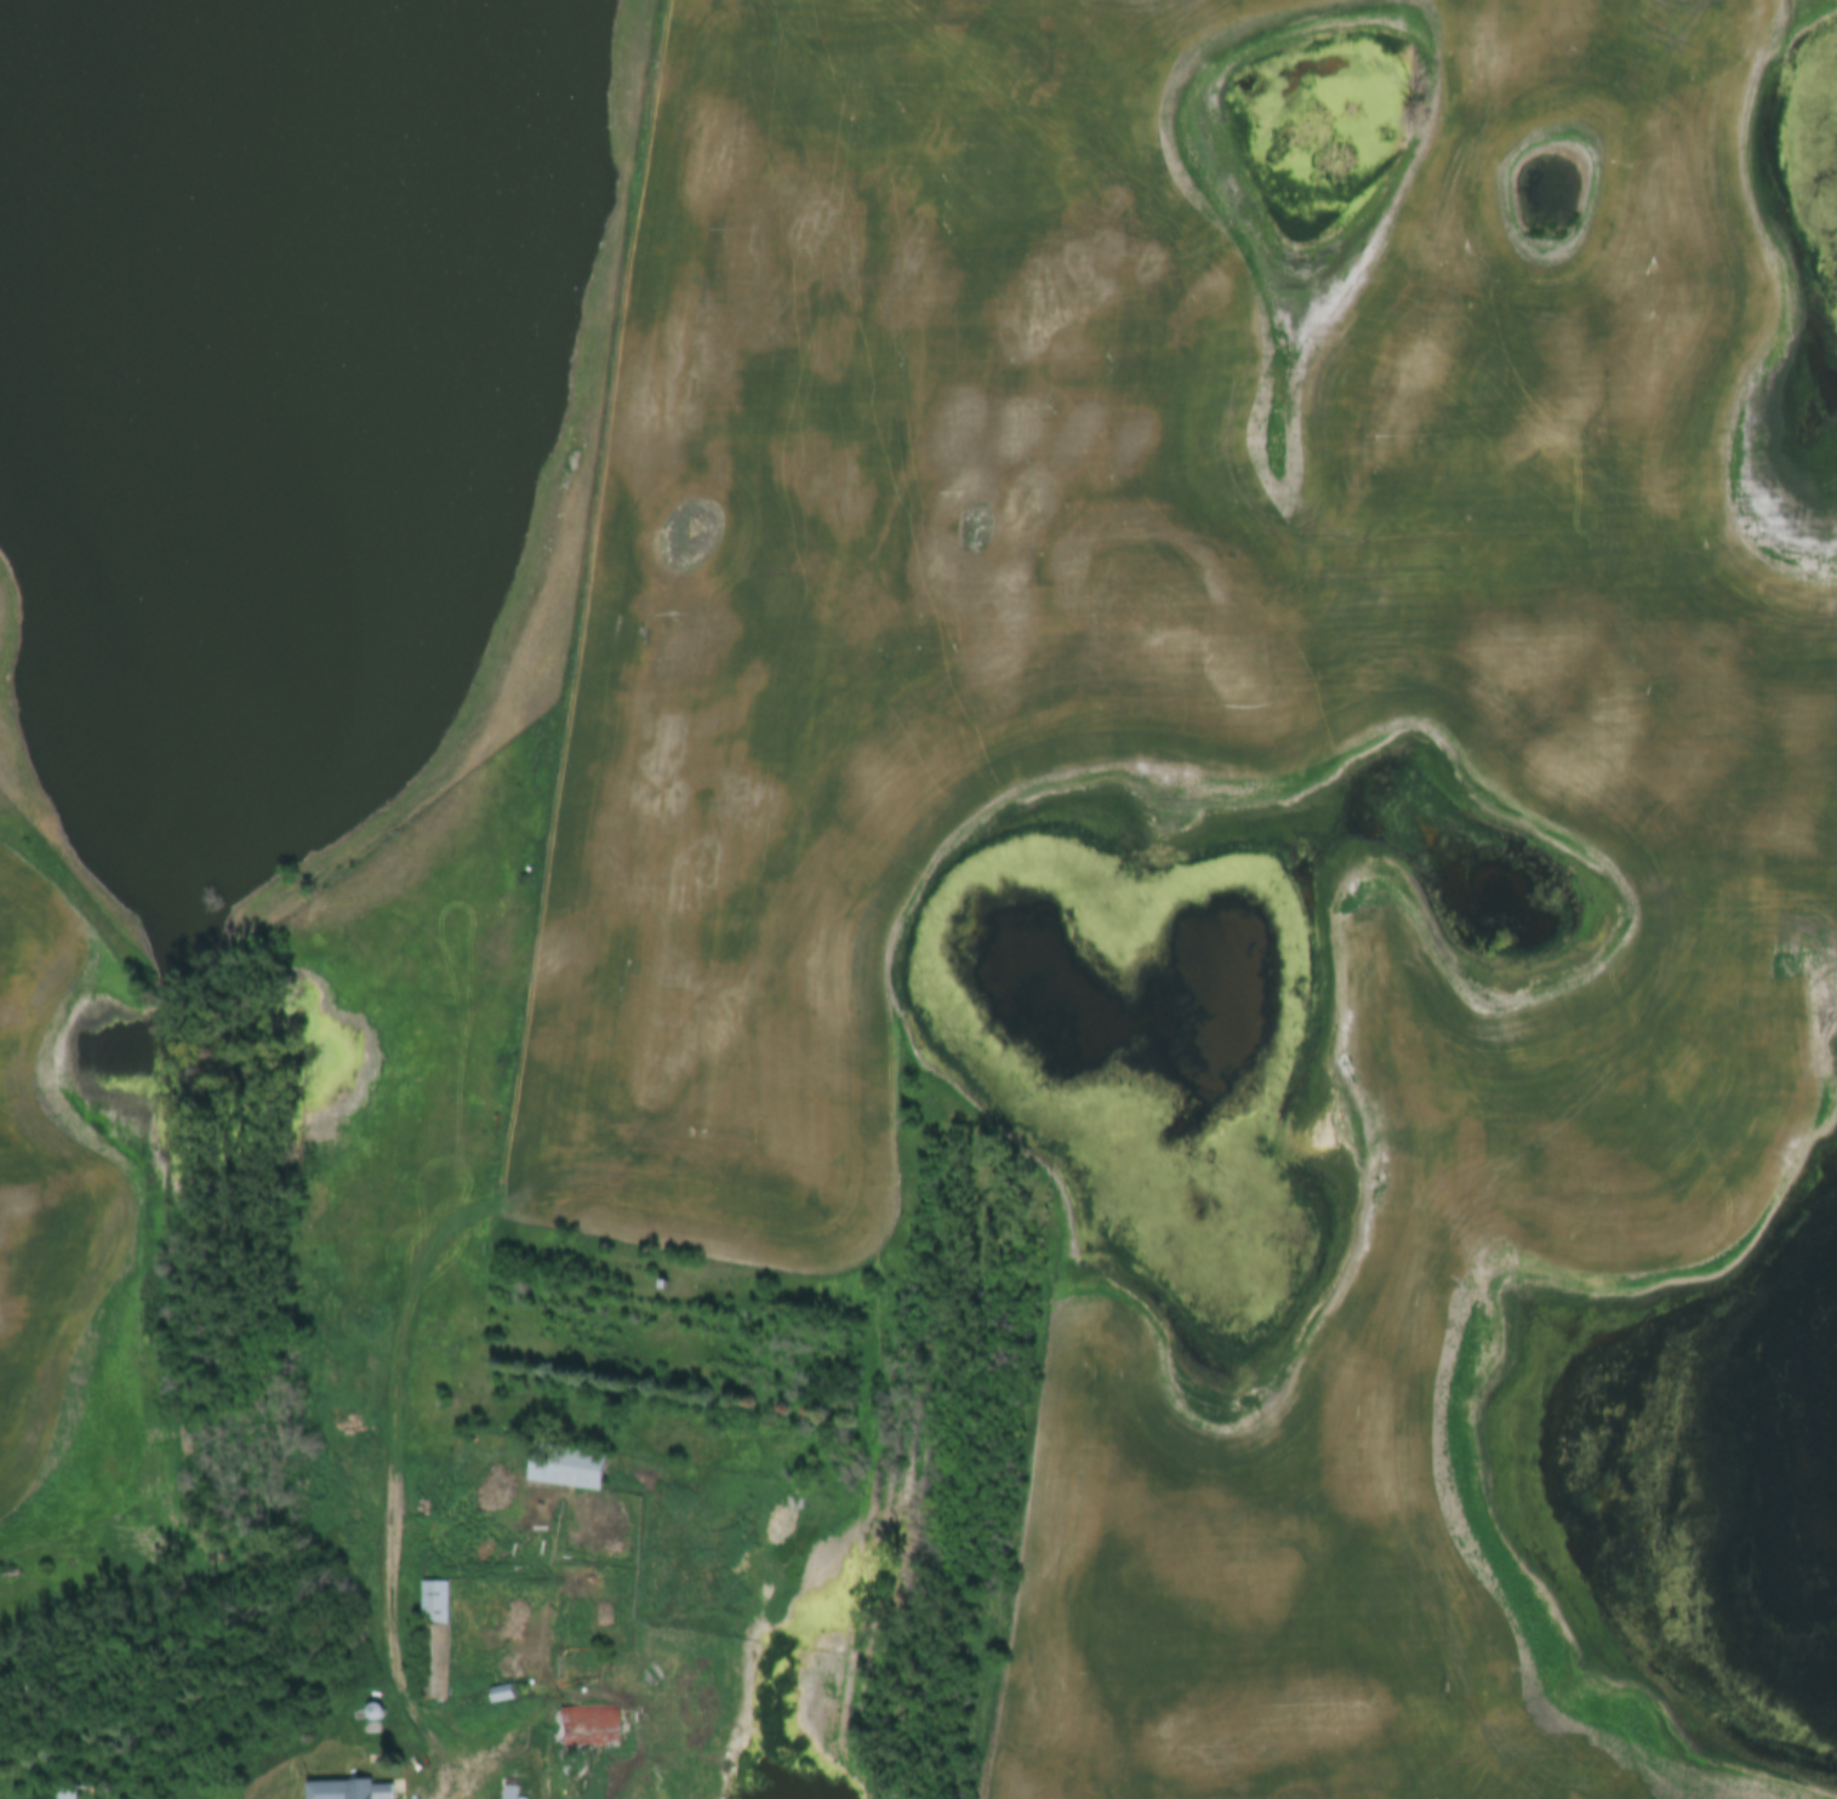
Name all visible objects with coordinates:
building: (567, 1464)
building: (434, 1640)
building: (502, 1694)
building: (591, 1729)
road: (517, 1744)
building: (352, 1789)
building: (70, 1792)
building: (569, 1798)

